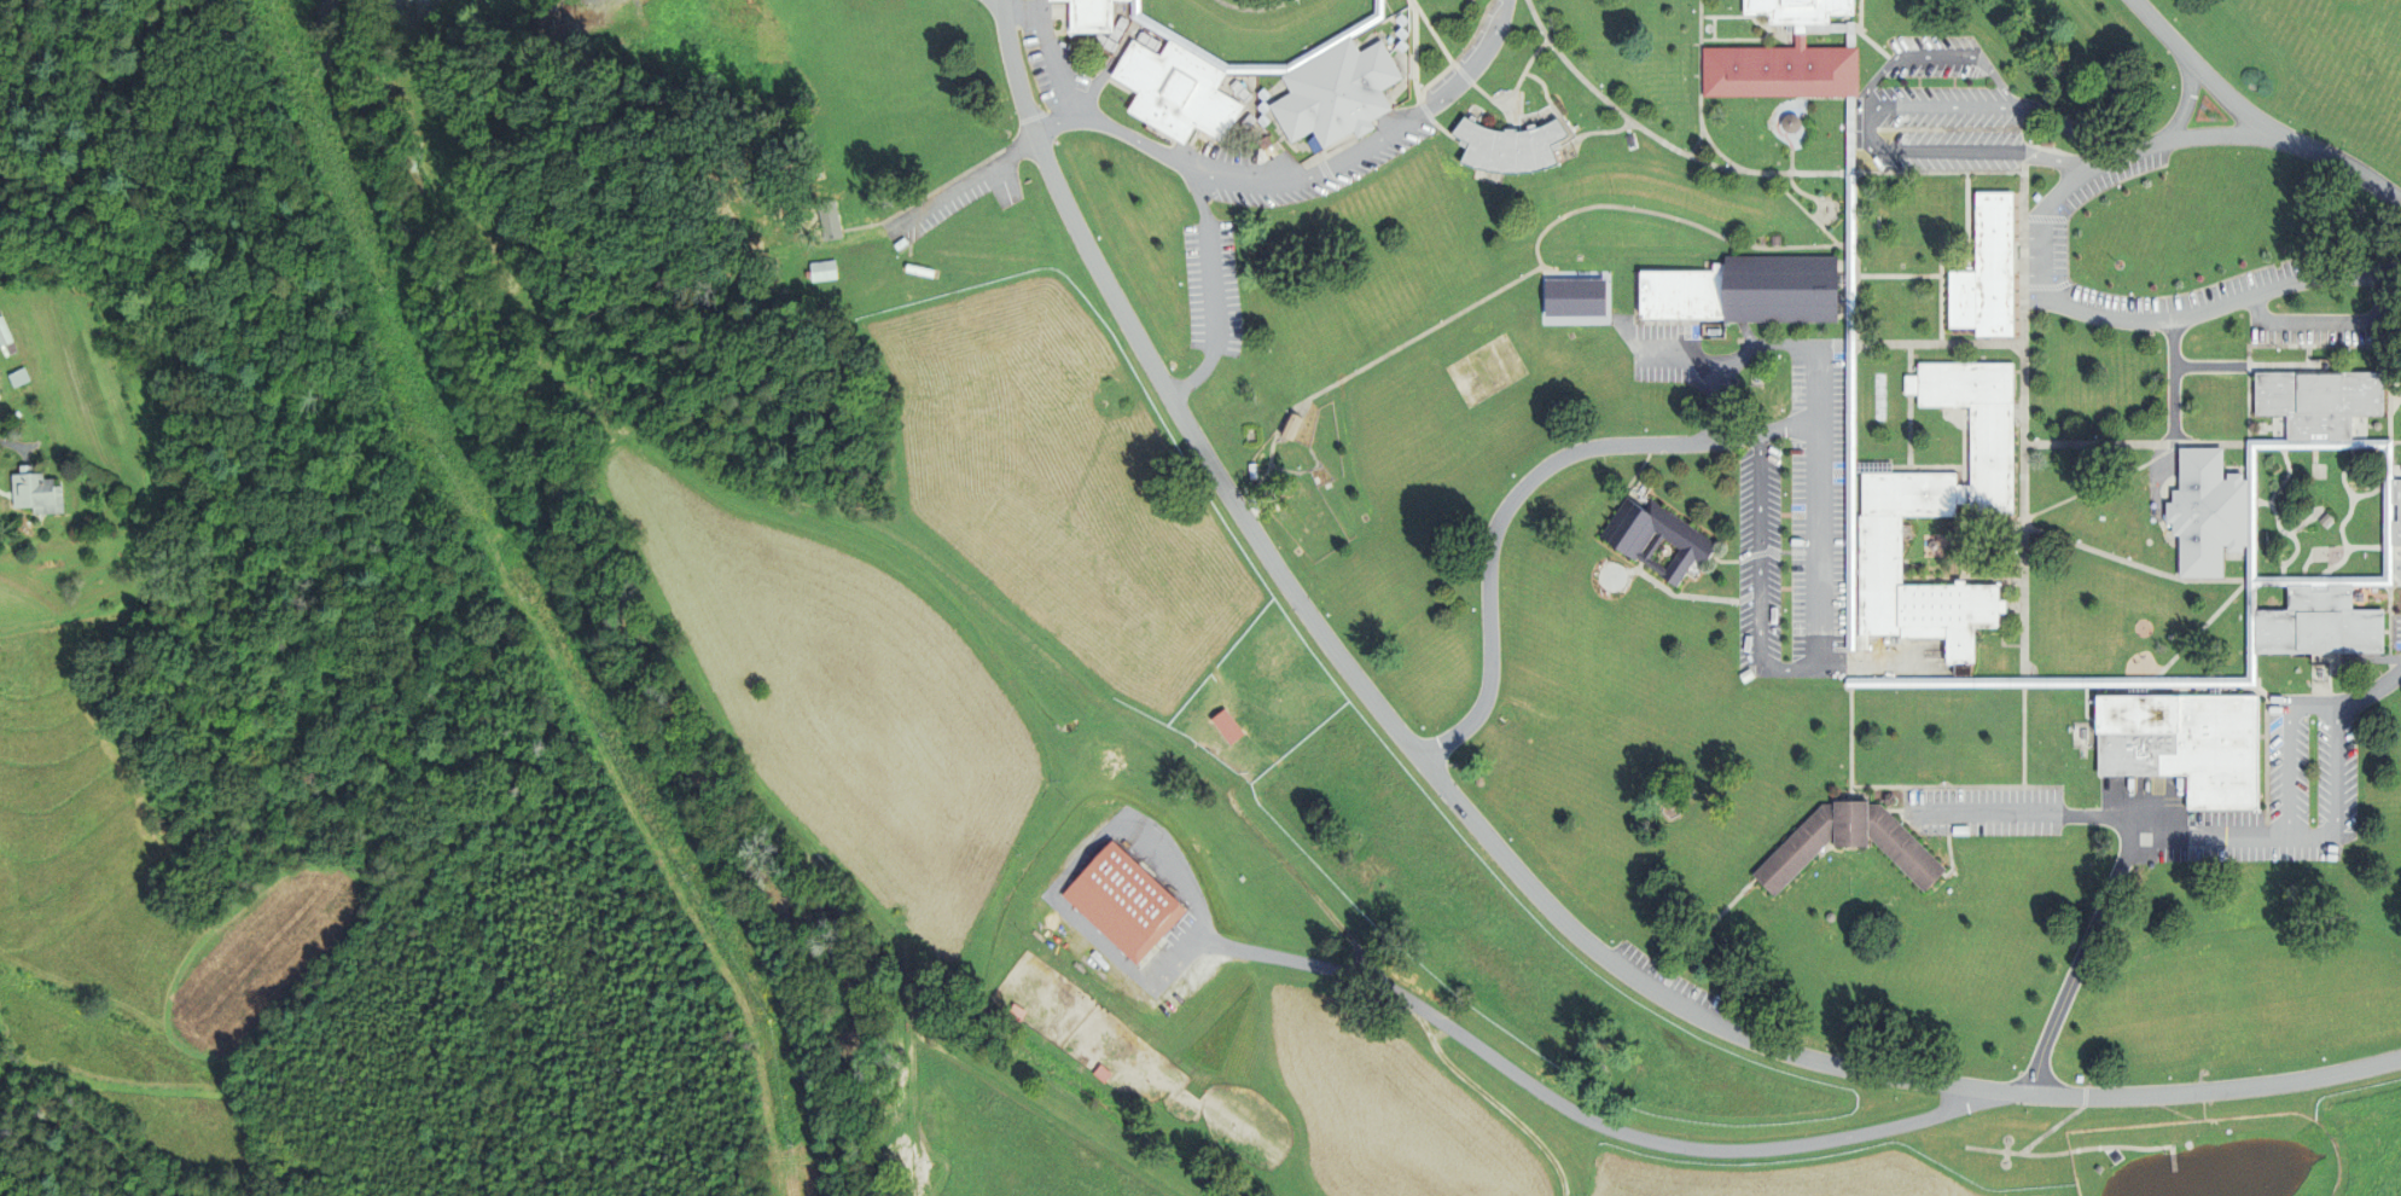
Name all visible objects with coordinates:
road: (1052, 45)
building: (1775, 54)
road: (2184, 100)
road: (2251, 121)
building: (1786, 123)
road: (2216, 133)
building: (1504, 146)
road: (1300, 178)
building: (822, 219)
building: (815, 269)
building: (1984, 271)
building: (1739, 291)
road: (1211, 292)
building: (1570, 296)
road: (2108, 319)
building: (7, 343)
building: (12, 381)
road: (1715, 401)
building: (1285, 425)
road: (1819, 425)
road: (1523, 487)
building: (28, 493)
building: (1928, 500)
building: (2295, 519)
building: (1652, 540)
road: (1758, 571)
river: (614, 609)
building: (2197, 684)
road: (2367, 695)
road: (2313, 707)
building: (1221, 726)
building: (2181, 744)
building: (1847, 843)
road: (1490, 844)
road: (2117, 875)
building: (1120, 901)

